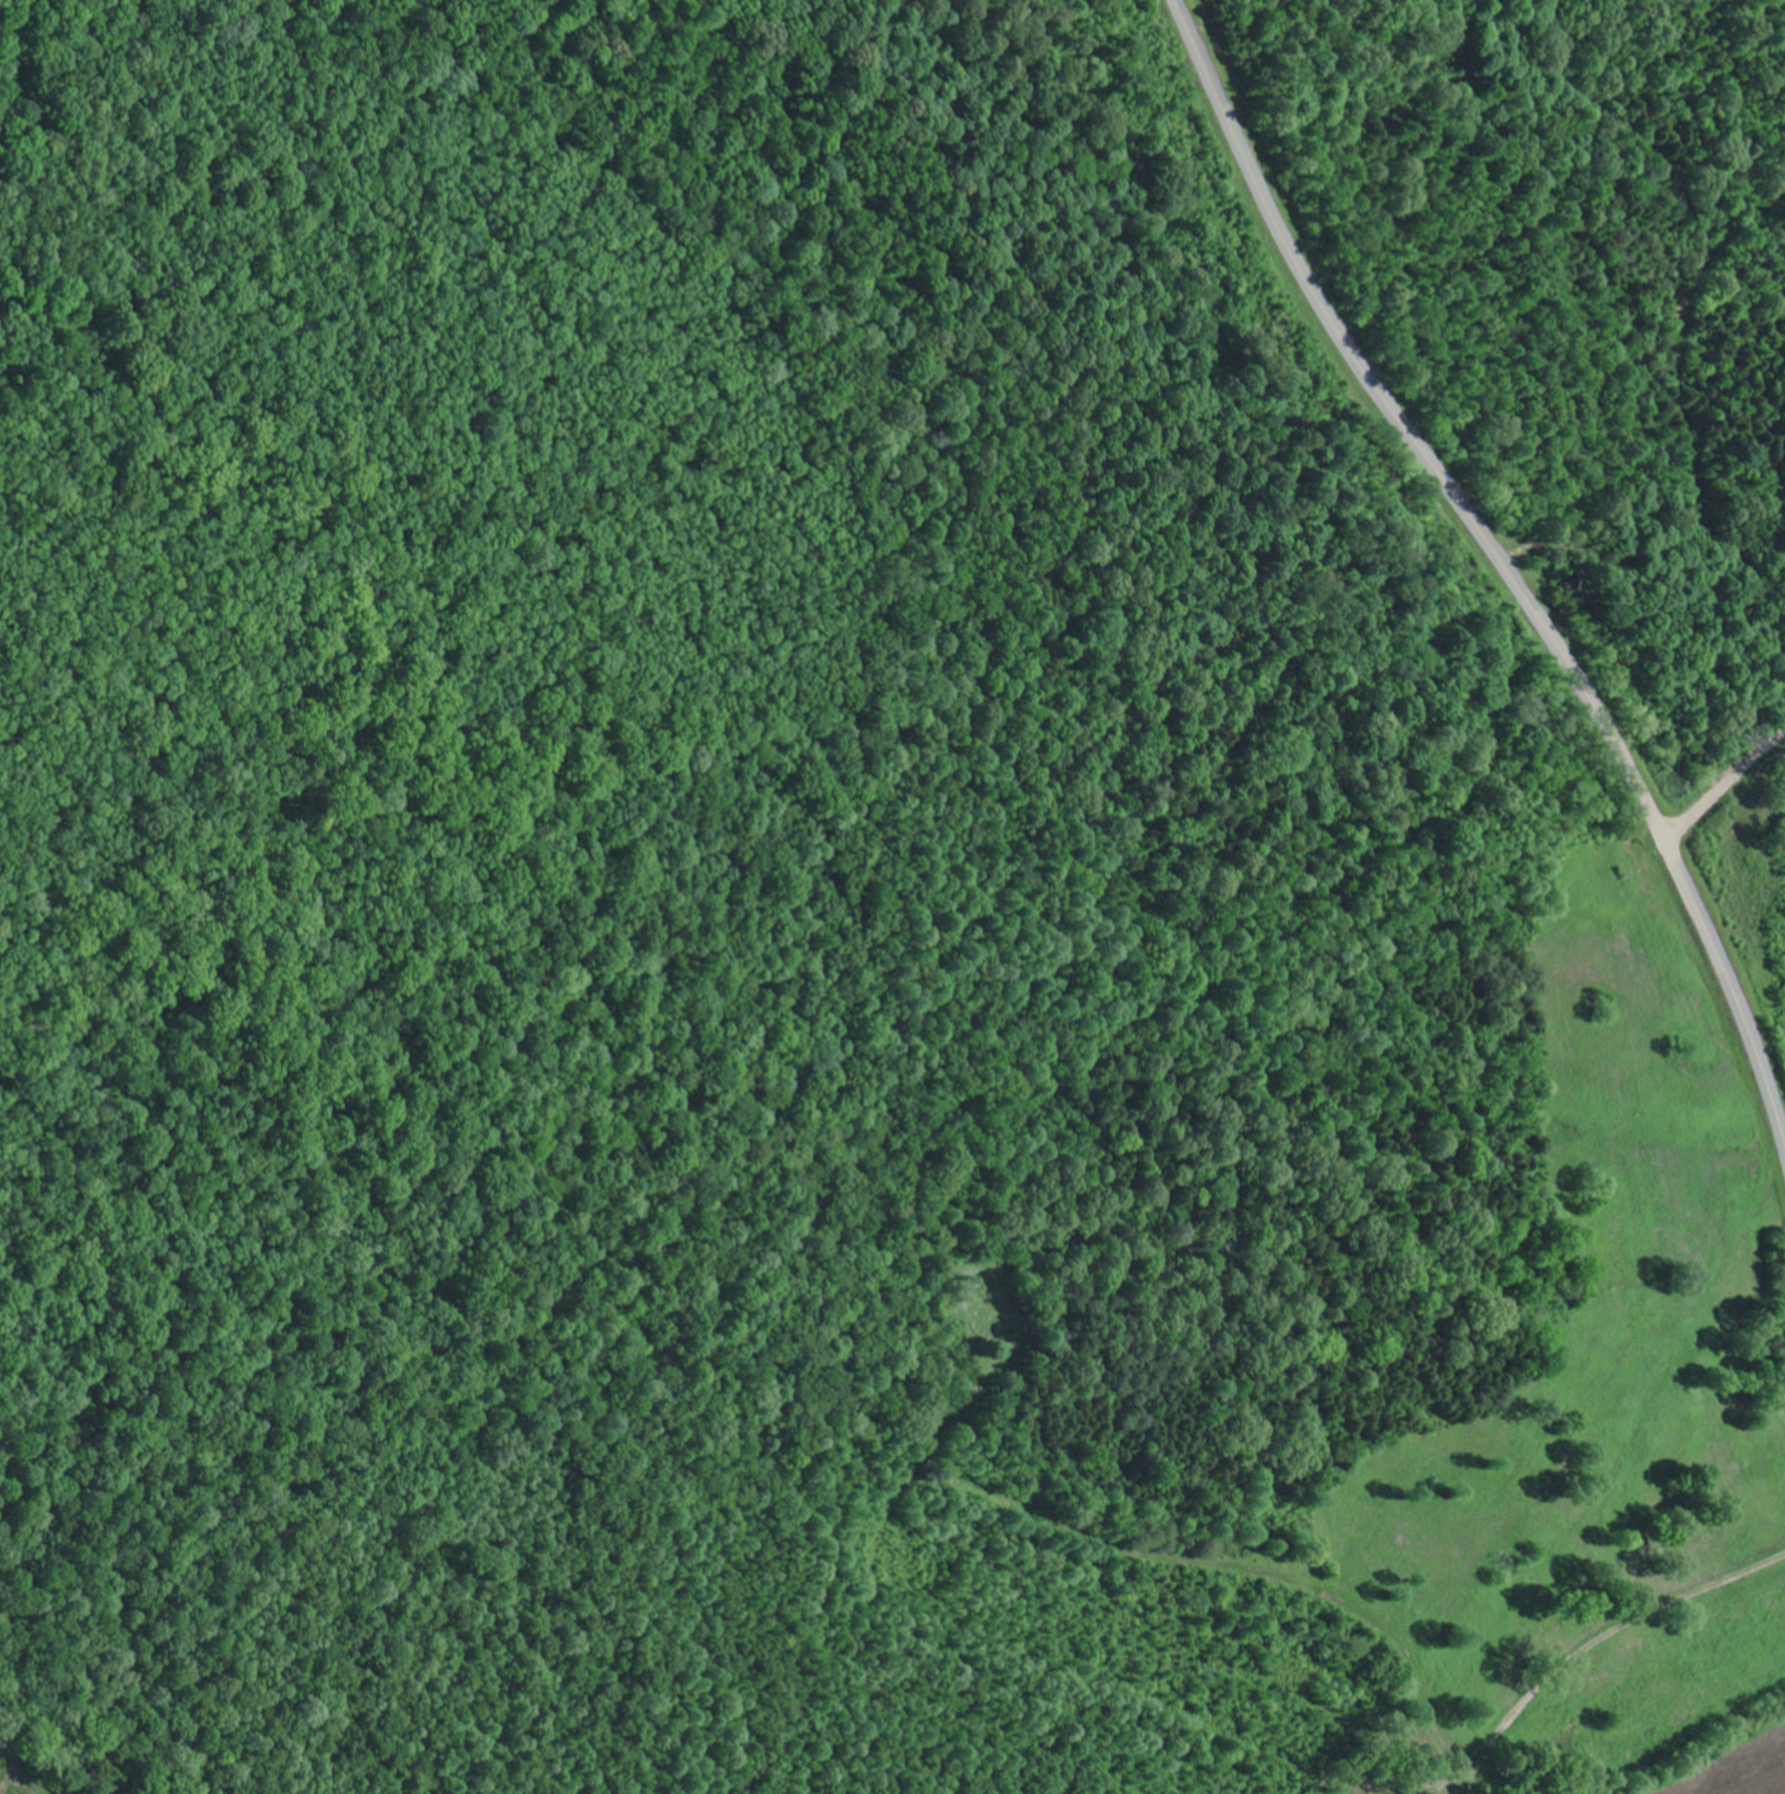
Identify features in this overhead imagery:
road: (1500, 558)
road: (1719, 784)
park: (1378, 1784)

